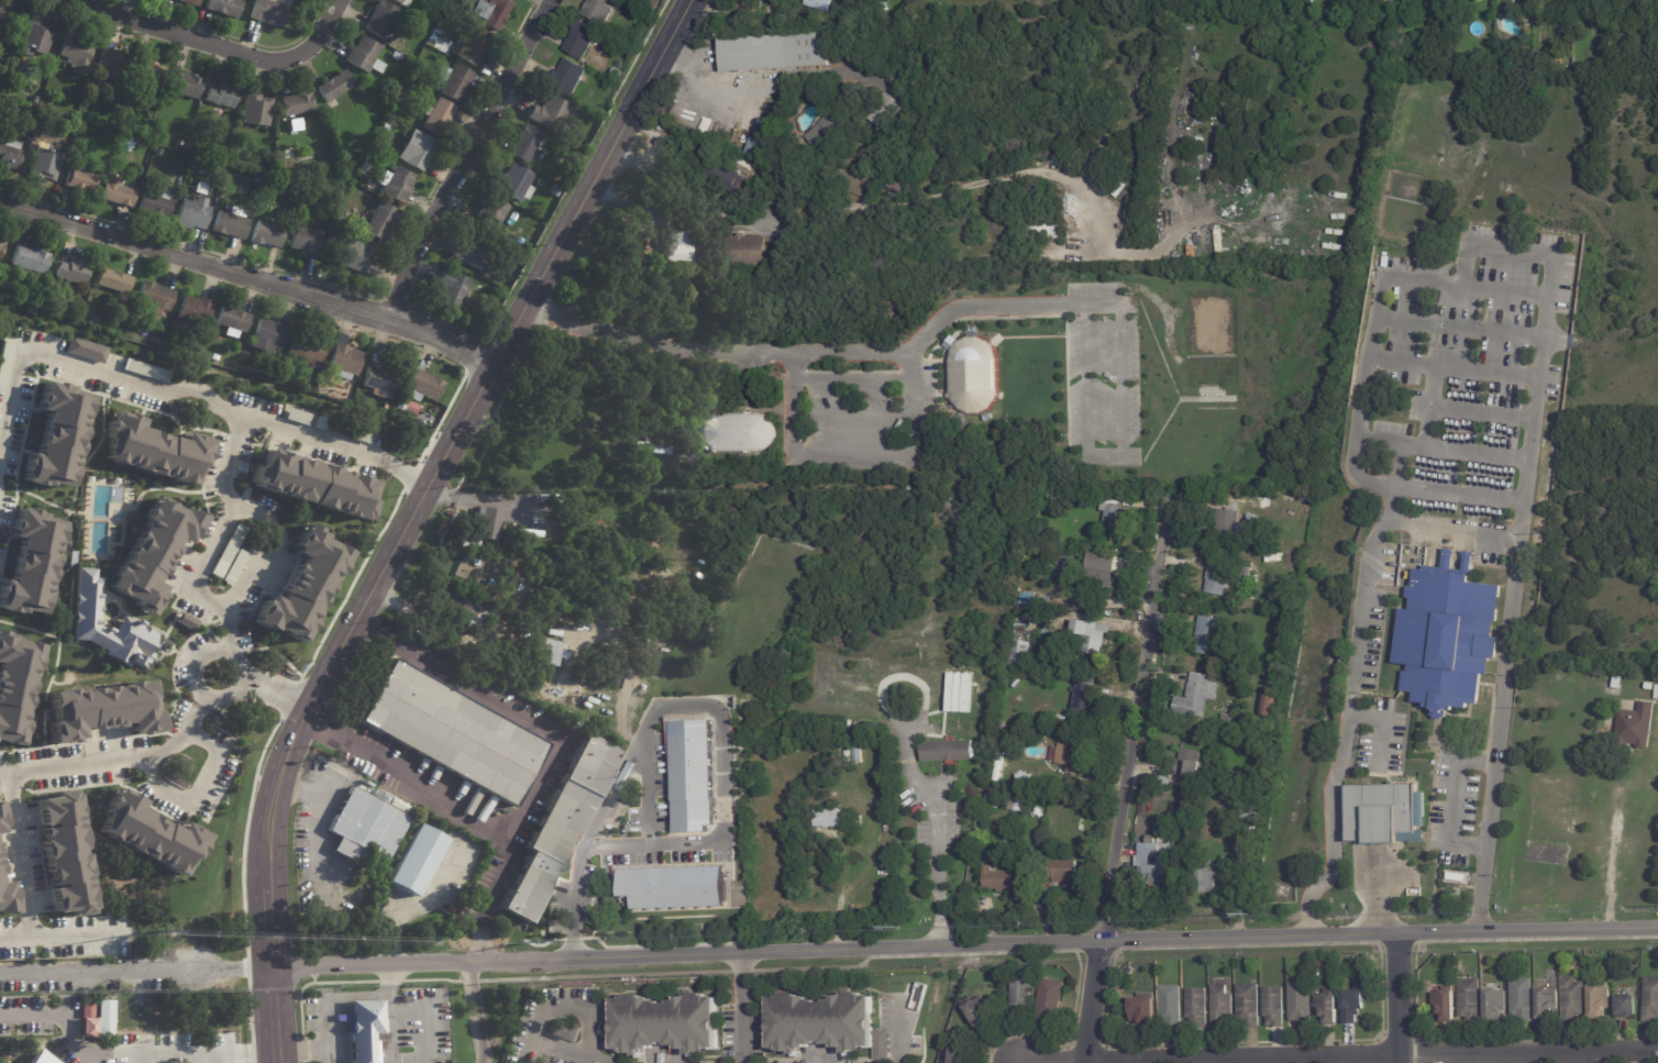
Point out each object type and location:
building: (190, 2)
building: (404, 3)
building: (819, 4)
building: (1311, 4)
building: (1349, 4)
building: (224, 8)
building: (1, 10)
building: (270, 12)
building: (599, 12)
building: (869, 13)
building: (495, 14)
building: (383, 21)
building: (616, 25)
building: (438, 32)
building: (37, 41)
building: (582, 42)
road: (220, 46)
building: (476, 47)
building: (775, 51)
building: (77, 55)
building: (366, 57)
building: (405, 60)
building: (411, 64)
building: (419, 66)
building: (111, 68)
building: (413, 76)
building: (618, 76)
building: (148, 77)
building: (567, 79)
building: (455, 84)
building: (185, 86)
building: (335, 88)
building: (222, 97)
building: (48, 101)
building: (297, 104)
building: (257, 111)
building: (883, 111)
building: (551, 114)
building: (438, 118)
building: (295, 124)
building: (386, 131)
building: (830, 131)
building: (123, 144)
building: (766, 144)
building: (528, 145)
building: (190, 148)
building: (157, 153)
building: (420, 153)
road: (466, 156)
building: (10, 157)
building: (366, 166)
building: (538, 166)
building: (44, 167)
building: (208, 167)
building: (215, 170)
building: (272, 170)
building: (726, 176)
building: (773, 178)
building: (258, 180)
building: (903, 181)
building: (81, 182)
building: (515, 185)
building: (398, 186)
building: (871, 187)
building: (201, 190)
building: (555, 191)
road: (681, 191)
building: (118, 193)
building: (268, 195)
building: (157, 204)
building: (496, 211)
building: (194, 215)
building: (380, 222)
building: (232, 224)
building: (1046, 229)
building: (268, 235)
building: (308, 243)
building: (2, 248)
building: (747, 251)
building: (676, 254)
building: (474, 255)
building: (355, 257)
road: (1467, 259)
building: (31, 262)
building: (74, 274)
building: (1, 275)
road: (250, 275)
building: (8, 277)
building: (114, 283)
building: (453, 290)
building: (155, 300)
road: (996, 306)
building: (124, 308)
building: (196, 312)
building: (233, 321)
building: (268, 339)
building: (85, 350)
building: (308, 351)
road: (866, 355)
building: (215, 358)
building: (278, 363)
building: (341, 365)
building: (145, 370)
building: (972, 376)
building: (379, 381)
building: (287, 383)
building: (1576, 385)
building: (424, 387)
road: (192, 399)
building: (401, 406)
building: (411, 410)
building: (296, 416)
building: (737, 433)
road: (318, 436)
building: (57, 438)
building: (644, 446)
building: (153, 450)
building: (924, 456)
building: (621, 465)
road: (436, 470)
road: (406, 476)
building: (624, 476)
building: (312, 484)
road: (483, 498)
building: (1110, 520)
building: (488, 523)
building: (1229, 523)
building: (152, 552)
building: (1029, 556)
road: (272, 558)
building: (1274, 558)
building: (1066, 562)
building: (31, 563)
building: (1101, 574)
building: (1245, 575)
building: (1217, 579)
road: (1510, 583)
building: (301, 587)
building: (557, 605)
building: (475, 610)
building: (85, 620)
building: (1209, 634)
building: (1448, 636)
road: (230, 638)
building: (1095, 638)
building: (595, 643)
building: (937, 643)
building: (902, 647)
building: (549, 650)
building: (1021, 655)
building: (1233, 658)
road: (196, 660)
building: (1651, 678)
building: (1616, 683)
road: (458, 684)
road: (239, 685)
building: (15, 686)
building: (1650, 687)
building: (587, 693)
road: (275, 694)
building: (1086, 694)
building: (1657, 695)
building: (1197, 697)
building: (585, 698)
road: (203, 699)
building: (1269, 705)
road: (689, 707)
building: (102, 710)
building: (1228, 718)
building: (850, 724)
building: (1638, 727)
building: (450, 730)
building: (861, 732)
building: (948, 752)
road: (109, 756)
building: (859, 756)
building: (1071, 759)
building: (1187, 764)
building: (829, 766)
building: (646, 767)
building: (1262, 772)
building: (688, 775)
building: (1247, 775)
road: (410, 778)
building: (1163, 779)
road: (1128, 782)
building: (1038, 785)
road: (325, 786)
road: (196, 788)
building: (849, 789)
building: (838, 798)
building: (1073, 799)
building: (993, 802)
building: (1254, 804)
building: (1018, 806)
building: (618, 811)
building: (1386, 815)
building: (1249, 817)
road: (1331, 817)
building: (829, 818)
building: (0, 823)
building: (367, 826)
building: (562, 826)
road: (939, 830)
building: (1251, 832)
building: (146, 833)
road: (316, 835)
road: (1613, 848)
road: (511, 849)
building: (64, 853)
building: (1196, 854)
building: (1153, 856)
building: (417, 860)
road: (20, 866)
building: (1062, 872)
building: (1212, 877)
building: (999, 879)
building: (670, 886)
building: (5, 896)
power tower: (1249, 912)
power tower: (896, 926)
road: (75, 932)
power tower: (156, 932)
power tower: (537, 940)
road: (965, 944)
building: (1335, 961)
building: (1449, 964)
road: (136, 968)
building: (1316, 972)
building: (1021, 996)
building: (1523, 997)
building: (1574, 997)
road: (322, 998)
road: (1400, 999)
building: (1471, 999)
building: (1651, 999)
building: (1050, 1000)
building: (1600, 1000)
building: (1495, 1001)
building: (1548, 1001)
building: (1302, 1003)
building: (1352, 1003)
building: (69, 1004)
building: (1250, 1004)
building: (1448, 1004)
building: (1274, 1005)
building: (1329, 1005)
building: (1172, 1006)
building: (1198, 1006)
building: (1223, 1006)
building: (1626, 1006)
road: (568, 1007)
road: (744, 1007)
building: (1145, 1010)
road: (425, 1011)
building: (981, 1011)
road: (472, 1012)
road: (275, 1014)
road: (54, 1016)
building: (106, 1019)
building: (667, 1021)
building: (827, 1023)
building: (89, 1026)
building: (365, 1028)
building: (566, 1030)
road: (899, 1033)
road: (195, 1050)
road: (568, 1051)
road: (530, 1054)
building: (962, 1055)
road: (212, 1056)
road: (1371, 1058)
road: (1576, 1058)
building: (38, 1059)

